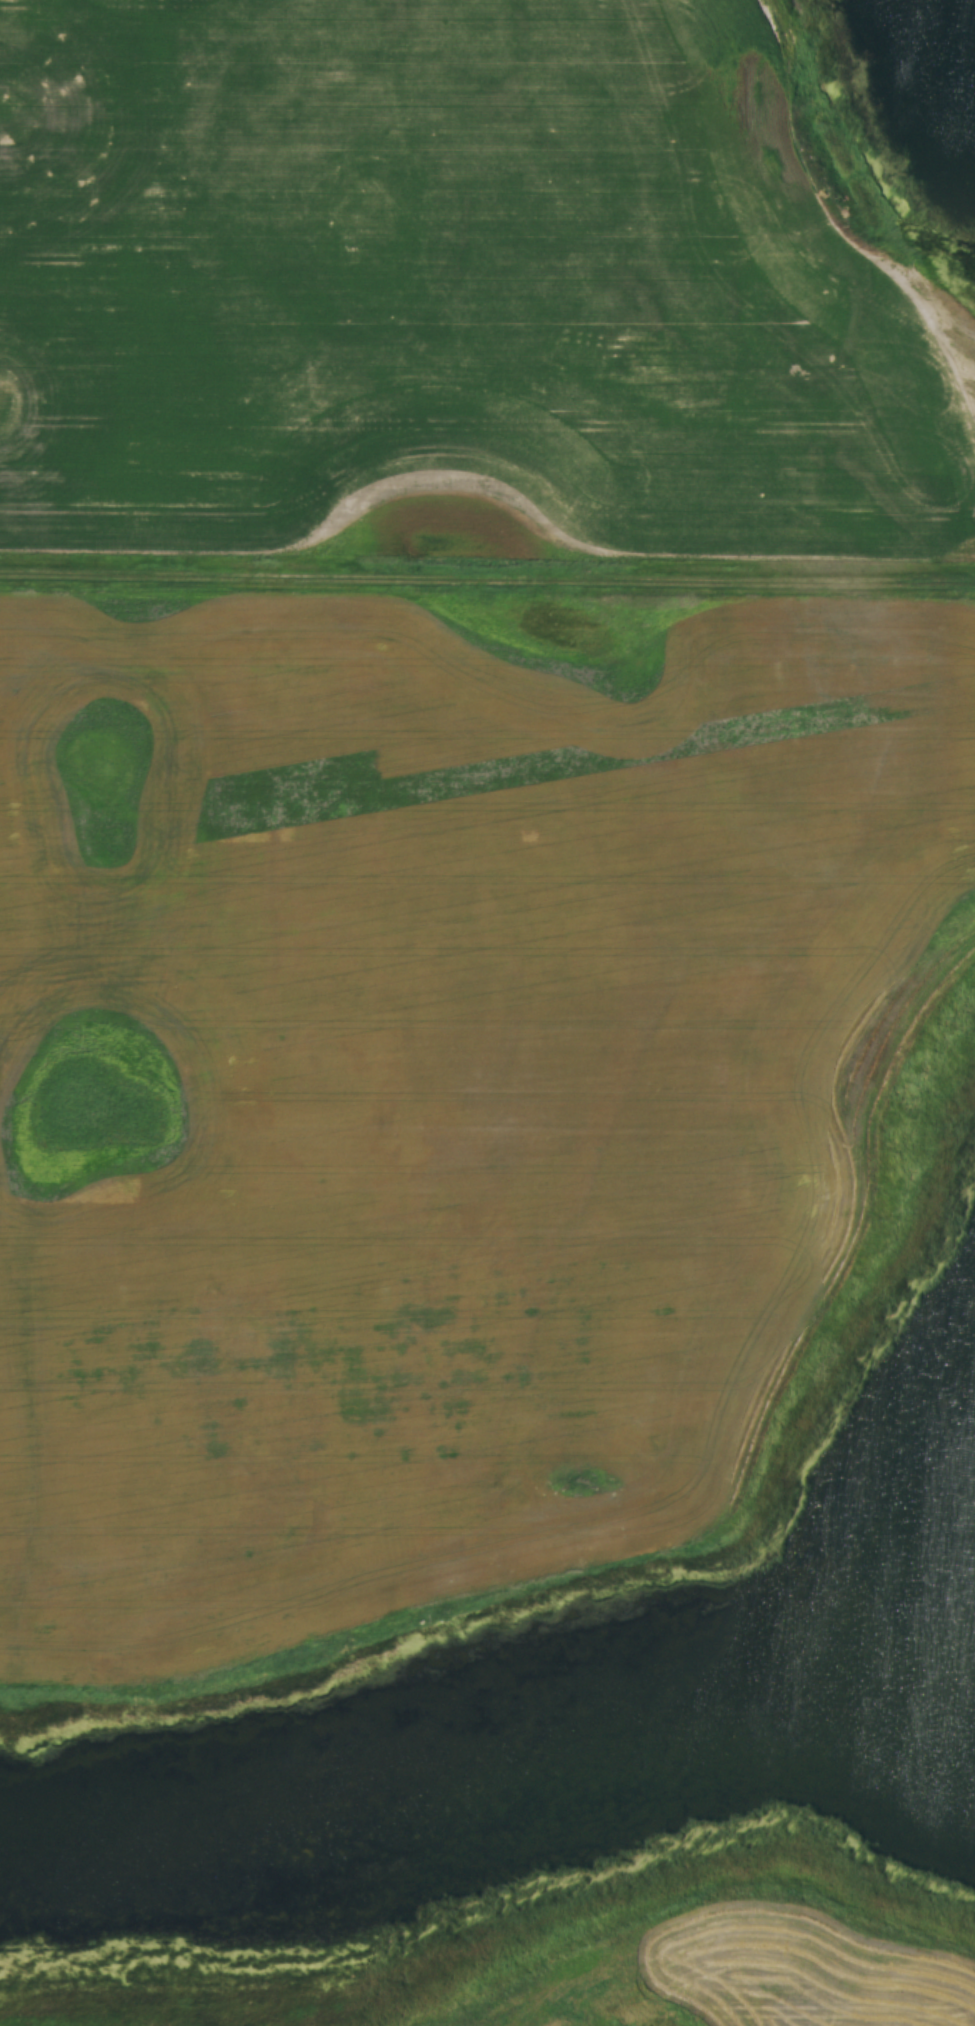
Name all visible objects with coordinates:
road: (487, 575)

